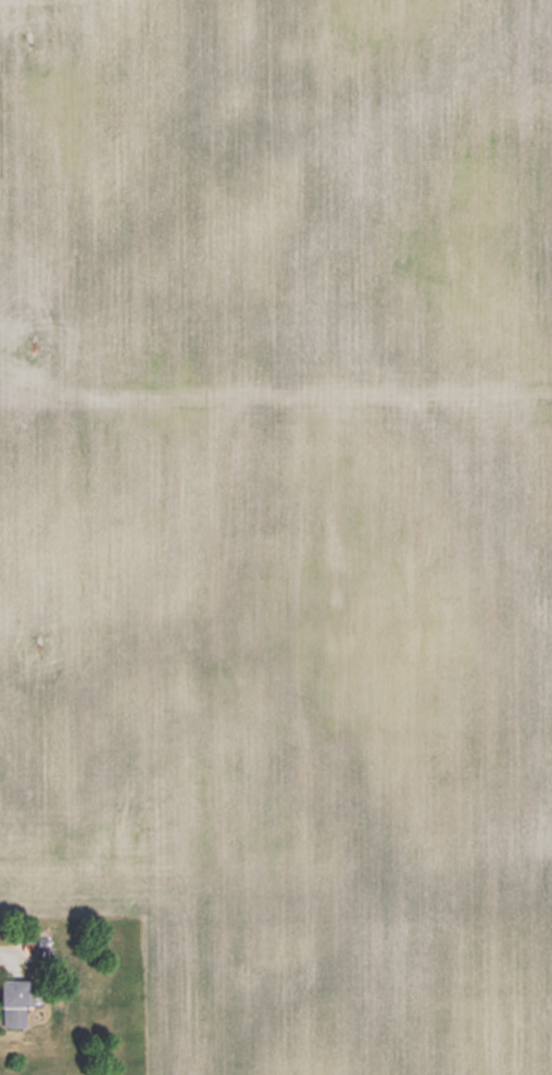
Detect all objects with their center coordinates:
building: (17, 1001)

